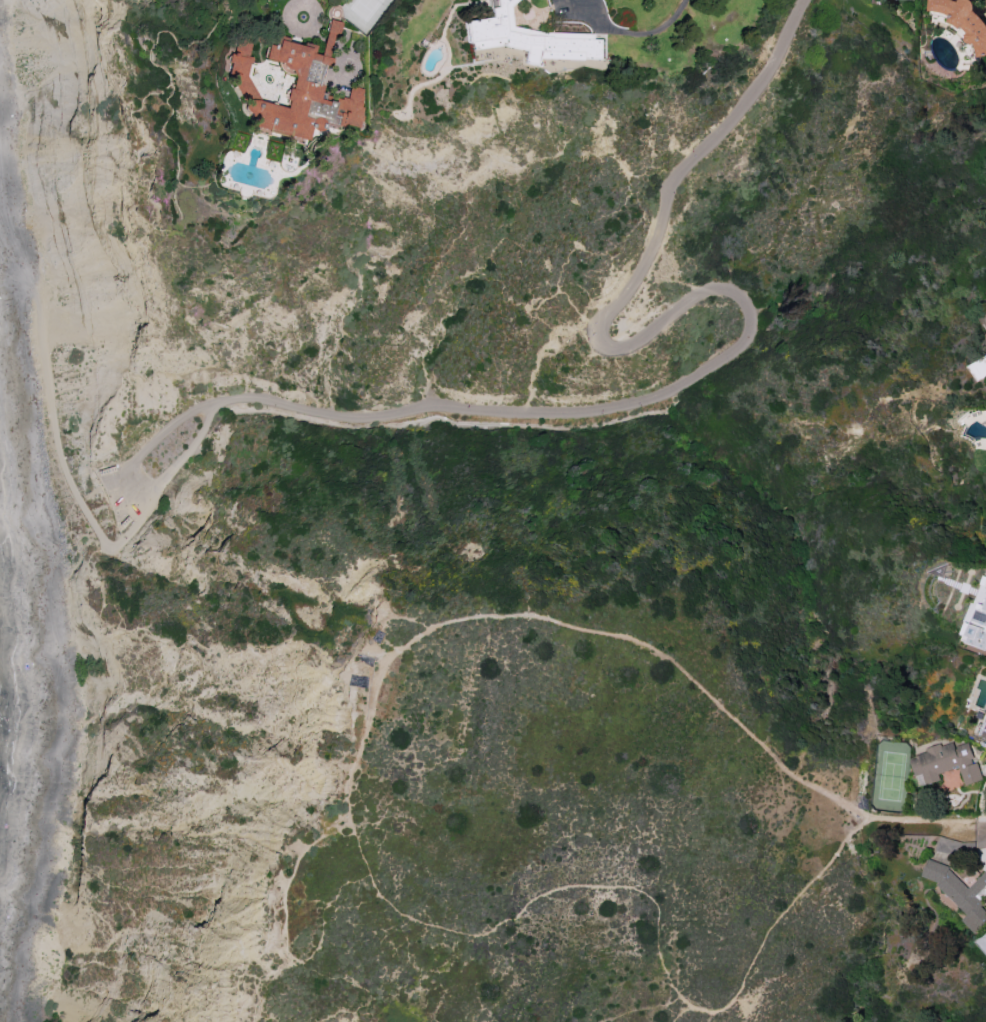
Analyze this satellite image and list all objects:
road: (306, 0)
park: (364, 12)
road: (317, 13)
parking lot: (583, 13)
fountain: (304, 15)
road: (448, 20)
building: (961, 21)
road: (536, 30)
road: (317, 33)
road: (635, 34)
road: (330, 37)
building: (530, 38)
road: (520, 55)
road: (609, 59)
road: (348, 63)
road: (425, 83)
building: (297, 89)
road: (286, 96)
road: (413, 115)
road: (260, 165)
road: (751, 309)
road: (49, 400)
road: (134, 497)
parking lot: (122, 500)
road: (104, 542)
building: (975, 617)
building: (984, 729)
building: (943, 762)
road: (348, 793)
road: (980, 831)
building: (959, 890)
road: (289, 947)
road: (681, 1014)

